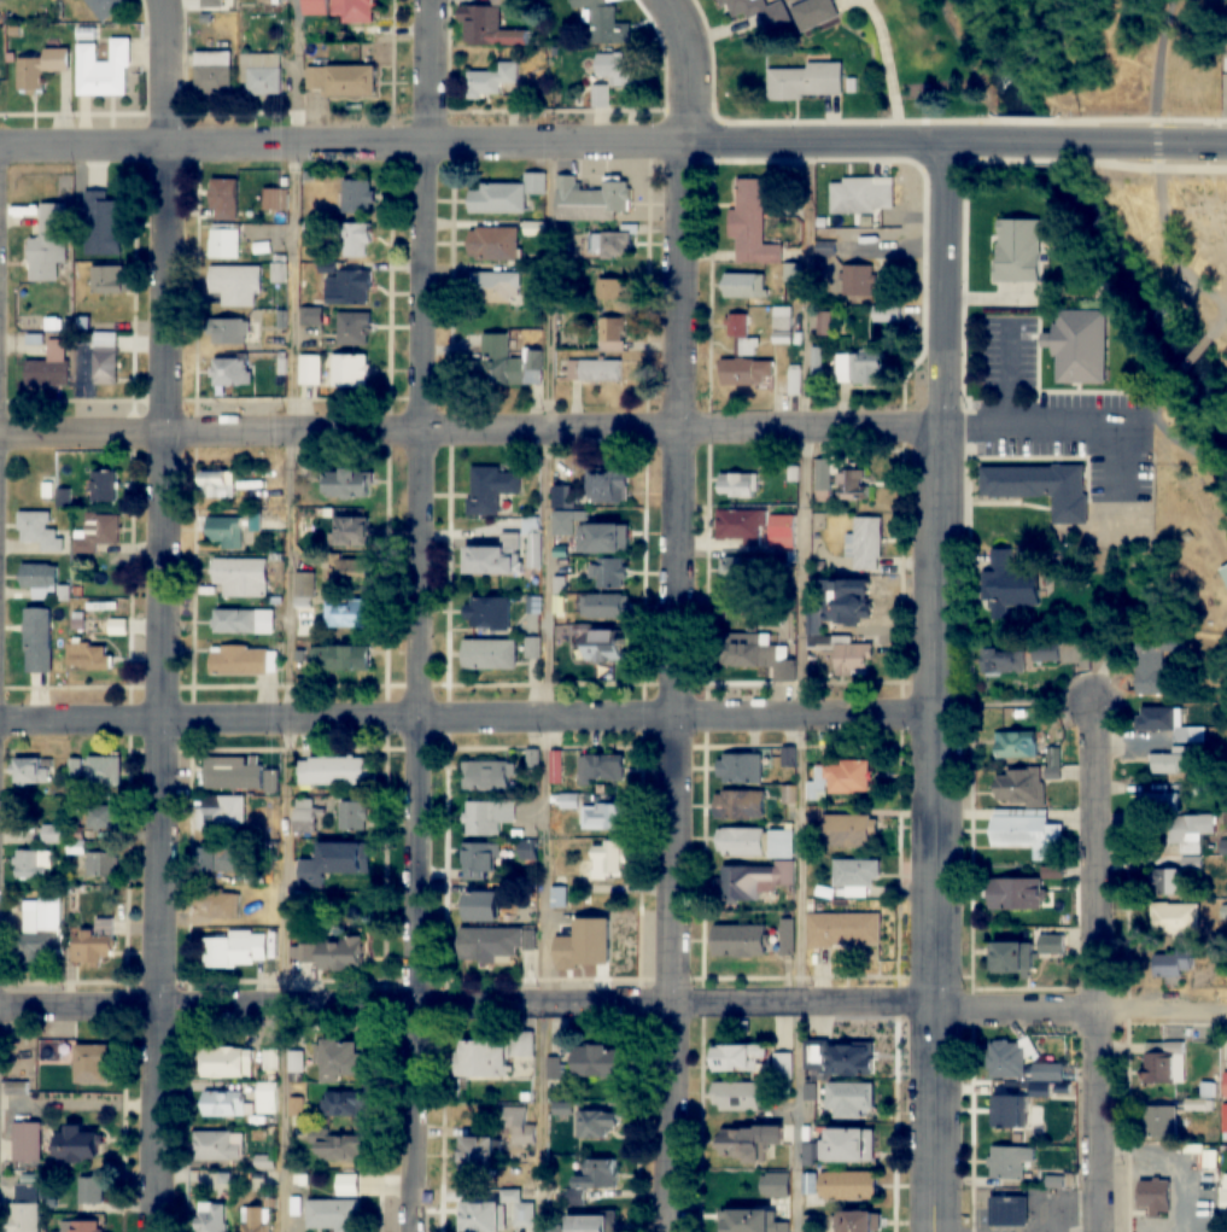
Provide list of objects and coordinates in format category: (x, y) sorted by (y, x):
building: (105, 7)
building: (338, 10)
building: (813, 13)
building: (775, 16)
building: (603, 23)
building: (490, 27)
road: (685, 66)
building: (40, 68)
building: (101, 69)
building: (212, 72)
building: (617, 72)
building: (261, 74)
building: (340, 81)
building: (491, 81)
building: (806, 82)
road: (475, 141)
road: (977, 142)
road: (1050, 142)
road: (1162, 145)
road: (1158, 176)
building: (506, 195)
building: (357, 197)
building: (861, 197)
building: (224, 199)
building: (275, 199)
building: (591, 199)
river: (1089, 215)
building: (103, 224)
building: (750, 227)
building: (53, 230)
building: (356, 241)
building: (224, 243)
building: (493, 244)
building: (613, 244)
building: (825, 247)
building: (997, 257)
building: (279, 273)
building: (791, 274)
building: (105, 279)
building: (858, 281)
building: (234, 284)
building: (497, 287)
building: (744, 287)
building: (349, 288)
building: (608, 290)
building: (888, 314)
building: (823, 325)
building: (782, 327)
building: (354, 329)
building: (229, 332)
building: (612, 334)
building: (741, 338)
building: (1077, 346)
building: (105, 358)
building: (497, 358)
road: (1192, 358)
building: (817, 362)
building: (49, 366)
building: (534, 368)
building: (858, 368)
building: (230, 370)
building: (310, 370)
building: (350, 372)
building: (598, 372)
building: (748, 373)
building: (794, 380)
road: (993, 383)
parking lot: (1039, 420)
road: (473, 432)
road: (1054, 433)
road: (1176, 438)
building: (823, 479)
building: (217, 484)
building: (345, 484)
building: (852, 484)
building: (606, 485)
building: (737, 485)
building: (104, 486)
building: (1040, 486)
building: (491, 487)
building: (738, 526)
building: (782, 526)
building: (39, 531)
building: (351, 531)
building: (97, 532)
building: (224, 532)
building: (598, 538)
building: (865, 544)
building: (495, 557)
building: (346, 571)
building: (740, 571)
building: (612, 573)
building: (1223, 573)
building: (37, 576)
building: (240, 576)
building: (998, 585)
building: (848, 601)
building: (603, 607)
building: (346, 612)
building: (487, 612)
road: (165, 615)
road: (292, 615)
road: (421, 615)
building: (243, 621)
building: (39, 641)
building: (603, 647)
building: (533, 648)
building: (1045, 653)
building: (489, 654)
building: (760, 655)
building: (88, 656)
building: (340, 658)
building: (852, 658)
building: (240, 660)
building: (1003, 660)
building: (1151, 664)
road: (548, 687)
road: (674, 687)
road: (805, 687)
road: (942, 688)
road: (471, 717)
building: (1169, 725)
building: (1015, 746)
building: (1178, 761)
building: (602, 770)
building: (740, 770)
building: (31, 771)
building: (334, 771)
building: (104, 772)
building: (233, 775)
building: (485, 776)
building: (842, 780)
building: (1024, 783)
building: (1157, 802)
building: (738, 806)
building: (223, 811)
building: (103, 817)
building: (304, 817)
building: (354, 817)
building: (487, 817)
building: (604, 818)
building: (851, 831)
building: (1187, 833)
building: (51, 834)
building: (1027, 834)
building: (740, 842)
building: (781, 843)
building: (478, 858)
building: (95, 860)
building: (216, 860)
building: (608, 862)
building: (335, 864)
building: (33, 865)
building: (854, 875)
building: (1173, 878)
building: (755, 881)
building: (1016, 894)
building: (216, 905)
building: (478, 907)
building: (1175, 918)
building: (41, 928)
building: (843, 930)
building: (594, 935)
building: (740, 941)
building: (95, 944)
building: (493, 944)
building: (1048, 945)
building: (235, 952)
building: (333, 954)
building: (1012, 958)
building: (1172, 963)
road: (1097, 967)
road: (613, 1004)
building: (524, 1045)
building: (1007, 1058)
building: (483, 1059)
building: (740, 1059)
building: (851, 1059)
building: (270, 1061)
building: (339, 1061)
building: (226, 1062)
building: (596, 1062)
building: (89, 1063)
building: (1164, 1063)
building: (783, 1065)
building: (556, 1068)
building: (1048, 1073)
building: (1225, 1086)
building: (265, 1097)
building: (736, 1097)
building: (849, 1100)
building: (223, 1104)
building: (344, 1104)
building: (1198, 1104)
building: (1005, 1113)
building: (1225, 1117)
building: (1159, 1122)
building: (516, 1125)
building: (595, 1125)
building: (28, 1142)
building: (744, 1143)
building: (75, 1144)
building: (218, 1146)
building: (338, 1146)
building: (841, 1146)
building: (477, 1158)
building: (264, 1161)
building: (1007, 1162)
building: (594, 1180)
building: (214, 1181)
building: (347, 1185)
building: (848, 1185)
building: (92, 1191)
building: (1153, 1195)
building: (512, 1197)
building: (1007, 1210)
building: (333, 1215)
building: (24, 1218)
building: (211, 1218)
building: (480, 1218)
building: (256, 1220)
building: (854, 1221)
building: (750, 1222)
building: (811, 1224)
building: (585, 1225)
building: (82, 1226)
building: (555, 1230)

